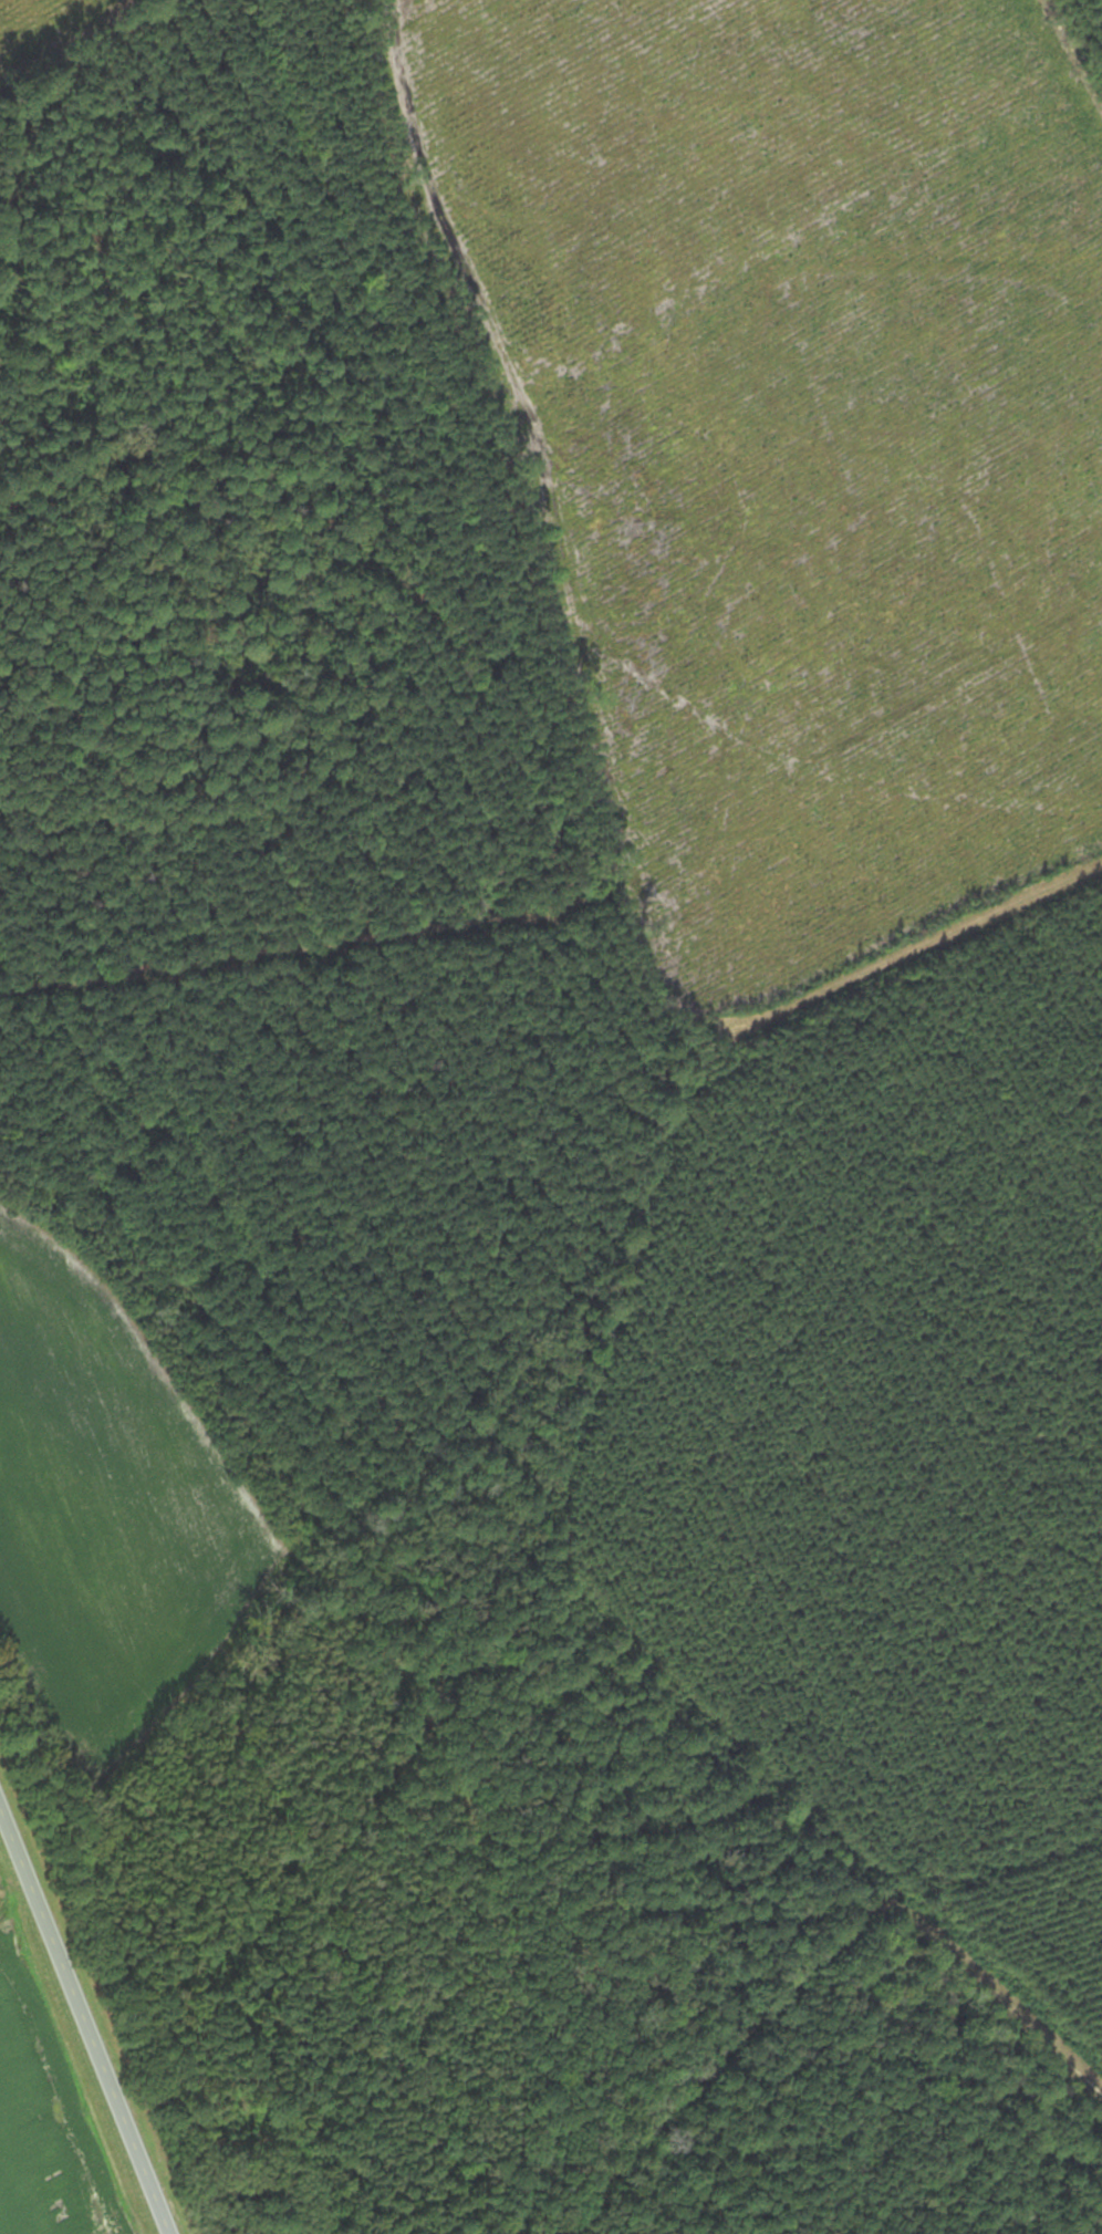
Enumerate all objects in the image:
road: (916, 993)
road: (840, 1995)
road: (95, 2002)

